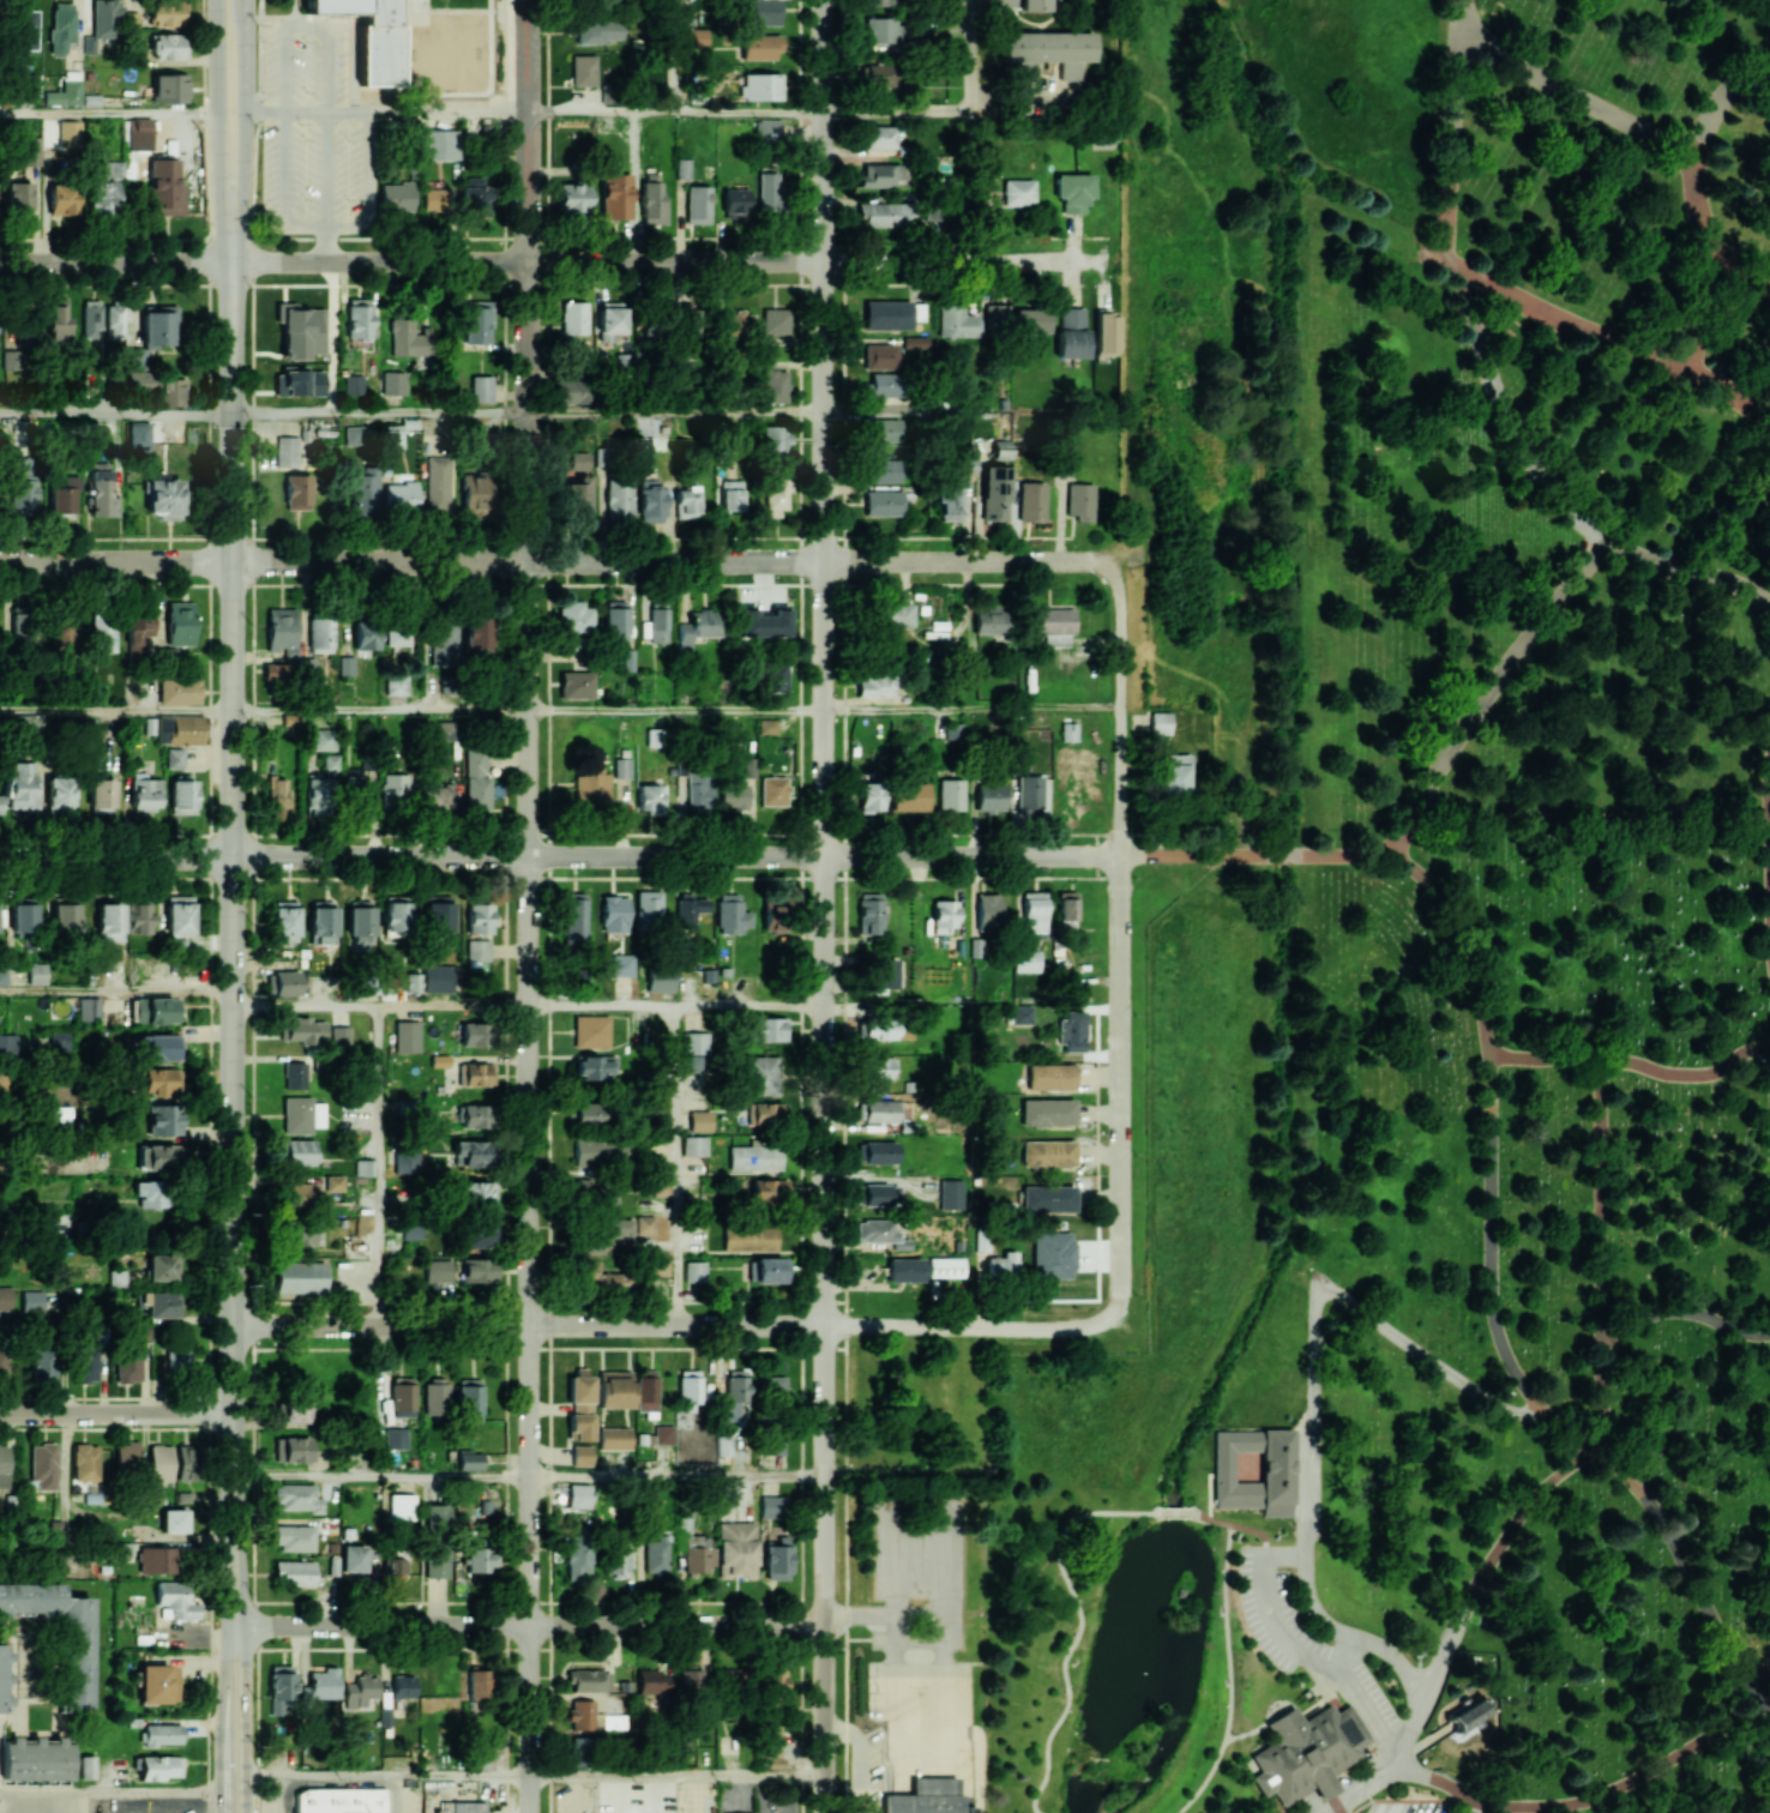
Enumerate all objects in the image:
building: (877, 2)
building: (1004, 2)
building: (1035, 5)
building: (342, 6)
building: (760, 12)
building: (167, 13)
road: (1459, 17)
building: (104, 18)
road: (303, 24)
building: (61, 26)
building: (25, 30)
building: (597, 31)
building: (880, 32)
building: (697, 38)
building: (168, 46)
building: (760, 46)
building: (1048, 52)
building: (375, 55)
road: (674, 55)
road: (973, 55)
building: (583, 70)
building: (880, 74)
building: (760, 86)
building: (169, 88)
building: (65, 94)
road: (1576, 97)
road: (1720, 101)
road: (386, 110)
road: (1035, 110)
road: (601, 112)
road: (748, 112)
road: (898, 112)
road: (109, 113)
road: (219, 131)
road: (243, 131)
building: (769, 131)
building: (70, 133)
building: (139, 133)
building: (877, 137)
building: (441, 145)
road: (1451, 145)
building: (32, 151)
parking lot: (312, 156)
building: (682, 168)
building: (119, 169)
building: (879, 174)
building: (165, 186)
road: (326, 186)
building: (1073, 191)
building: (1017, 192)
building: (767, 193)
building: (102, 195)
building: (614, 195)
building: (19, 198)
building: (396, 198)
building: (474, 198)
building: (434, 199)
building: (572, 199)
building: (734, 199)
building: (61, 200)
building: (651, 200)
road: (1697, 200)
building: (697, 204)
building: (941, 210)
building: (881, 213)
road: (1432, 251)
road: (1452, 260)
road: (116, 263)
road: (662, 263)
road: (1738, 271)
road: (1700, 307)
building: (887, 314)
building: (995, 315)
building: (91, 318)
building: (359, 318)
building: (573, 318)
building: (58, 319)
building: (115, 320)
building: (955, 320)
building: (1030, 320)
building: (609, 321)
building: (776, 321)
building: (737, 323)
road: (1577, 323)
building: (157, 324)
building: (472, 325)
building: (24, 326)
building: (300, 330)
building: (1071, 332)
building: (1104, 332)
road: (333, 338)
building: (407, 339)
building: (914, 342)
building: (880, 356)
building: (136, 359)
building: (11, 360)
building: (299, 380)
building: (137, 381)
building: (353, 384)
building: (884, 384)
building: (775, 385)
building: (481, 387)
building: (171, 390)
building: (570, 391)
road: (1734, 393)
road: (116, 414)
road: (380, 414)
road: (676, 414)
road: (1505, 421)
road: (824, 429)
building: (885, 429)
building: (132, 434)
building: (353, 435)
building: (392, 435)
building: (773, 438)
building: (1001, 450)
building: (287, 451)
building: (579, 460)
building: (968, 464)
building: (883, 470)
building: (438, 483)
building: (22, 486)
building: (366, 490)
building: (101, 492)
building: (297, 492)
building: (476, 493)
building: (994, 493)
building: (730, 494)
building: (61, 495)
building: (775, 495)
building: (402, 496)
building: (164, 498)
building: (576, 498)
building: (619, 499)
building: (651, 499)
building: (947, 499)
building: (687, 501)
building: (1031, 501)
building: (1079, 501)
building: (883, 502)
road: (556, 564)
road: (1690, 572)
building: (574, 615)
building: (892, 615)
building: (989, 620)
building: (615, 621)
building: (763, 621)
building: (19, 622)
building: (180, 624)
building: (655, 624)
building: (1052, 625)
building: (698, 626)
building: (282, 630)
building: (65, 631)
building: (102, 631)
building: (397, 632)
building: (476, 632)
building: (366, 633)
building: (137, 634)
building: (320, 634)
building: (444, 645)
road: (1501, 675)
building: (776, 676)
building: (396, 685)
building: (576, 685)
building: (875, 685)
building: (177, 691)
road: (116, 710)
road: (381, 710)
road: (973, 710)
road: (676, 711)
building: (179, 729)
building: (445, 730)
building: (1068, 731)
building: (654, 736)
building: (324, 740)
building: (174, 758)
building: (748, 766)
building: (621, 767)
building: (1172, 772)
building: (476, 779)
building: (22, 787)
building: (592, 788)
building: (357, 789)
building: (393, 789)
building: (699, 790)
building: (772, 790)
building: (61, 793)
building: (145, 793)
building: (950, 794)
building: (1029, 794)
building: (102, 795)
building: (317, 795)
building: (733, 795)
building: (182, 796)
building: (438, 796)
building: (649, 796)
building: (910, 796)
building: (989, 797)
building: (278, 799)
building: (1, 805)
road: (1590, 820)
road: (1399, 838)
road: (411, 856)
road: (1253, 856)
road: (973, 859)
road: (529, 907)
building: (648, 908)
building: (688, 909)
building: (1066, 909)
building: (986, 911)
building: (1034, 911)
building: (24, 912)
building: (64, 912)
building: (869, 912)
building: (179, 914)
building: (614, 914)
building: (732, 914)
building: (773, 915)
building: (944, 915)
building: (139, 916)
building: (439, 916)
building: (396, 917)
building: (478, 917)
building: (574, 917)
building: (285, 921)
building: (323, 921)
building: (109, 922)
road: (1468, 938)
road: (234, 944)
road: (1120, 946)
building: (478, 950)
building: (1027, 960)
building: (622, 965)
building: (883, 972)
building: (37, 974)
building: (4, 975)
building: (393, 977)
building: (437, 978)
building: (660, 981)
building: (285, 982)
building: (413, 982)
road: (116, 992)
park: (1473, 992)
road: (306, 1006)
road: (454, 1006)
road: (602, 1006)
road: (749, 1006)
building: (89, 1008)
building: (162, 1010)
building: (1022, 1014)
building: (769, 1028)
building: (879, 1029)
building: (305, 1030)
building: (591, 1030)
building: (1071, 1031)
building: (474, 1034)
building: (339, 1036)
building: (405, 1036)
building: (59, 1040)
building: (694, 1042)
building: (7, 1046)
building: (161, 1046)
road: (1547, 1059)
building: (439, 1060)
building: (692, 1064)
building: (592, 1067)
building: (877, 1068)
building: (478, 1073)
building: (295, 1074)
building: (761, 1074)
road: (1688, 1074)
building: (1049, 1076)
building: (164, 1082)
building: (881, 1110)
building: (1047, 1112)
building: (61, 1113)
building: (588, 1113)
building: (766, 1113)
building: (301, 1114)
building: (475, 1115)
building: (163, 1119)
building: (699, 1120)
building: (694, 1145)
building: (632, 1149)
building: (299, 1151)
building: (472, 1151)
building: (594, 1151)
building: (879, 1152)
building: (1047, 1154)
building: (161, 1157)
building: (755, 1157)
road: (381, 1164)
road: (676, 1165)
building: (333, 1183)
building: (661, 1187)
building: (770, 1191)
building: (150, 1192)
building: (302, 1192)
building: (477, 1193)
building: (880, 1194)
building: (950, 1194)
building: (1047, 1198)
road: (1603, 1200)
building: (644, 1224)
building: (411, 1231)
building: (607, 1233)
building: (880, 1233)
building: (301, 1234)
building: (478, 1235)
building: (751, 1237)
road: (1492, 1240)
building: (995, 1264)
building: (660, 1266)
building: (163, 1267)
building: (945, 1267)
building: (904, 1269)
building: (438, 1270)
building: (477, 1270)
building: (694, 1270)
building: (771, 1270)
building: (300, 1276)
building: (602, 1278)
road: (1319, 1294)
building: (6, 1299)
building: (34, 1302)
building: (162, 1303)
road: (1684, 1311)
road: (529, 1325)
road: (967, 1326)
road: (825, 1336)
building: (176, 1359)
building: (2, 1362)
building: (42, 1363)
building: (128, 1363)
building: (84, 1365)
building: (736, 1387)
building: (615, 1389)
building: (772, 1389)
building: (646, 1390)
building: (690, 1390)
building: (403, 1392)
building: (435, 1397)
road: (1605, 1397)
building: (469, 1399)
building: (580, 1404)
building: (1601, 1405)
building: (295, 1410)
building: (732, 1410)
road: (118, 1413)
building: (664, 1432)
road: (1569, 1433)
building: (395, 1438)
building: (614, 1438)
building: (724, 1444)
building: (773, 1444)
building: (297, 1448)
building: (582, 1454)
building: (127, 1456)
building: (470, 1459)
building: (85, 1462)
building: (187, 1462)
building: (161, 1463)
building: (4, 1465)
building: (43, 1465)
building: (1227, 1469)
building: (1281, 1475)
road: (383, 1477)
road: (678, 1477)
building: (578, 1494)
building: (297, 1498)
building: (402, 1506)
building: (772, 1506)
building: (437, 1512)
road: (1178, 1514)
building: (174, 1519)
road: (1214, 1520)
building: (685, 1524)
road: (1258, 1531)
building: (294, 1536)
building: (121, 1549)
building: (736, 1549)
building: (656, 1554)
building: (697, 1554)
road: (1286, 1555)
building: (577, 1556)
building: (353, 1558)
building: (776, 1558)
building: (157, 1559)
building: (480, 1559)
building: (618, 1560)
building: (437, 1562)
road: (1686, 1562)
road: (1491, 1564)
building: (393, 1565)
building: (295, 1572)
building: (175, 1600)
road: (1312, 1609)
road: (530, 1626)
road: (1083, 1627)
road: (1281, 1627)
parking lot: (1308, 1645)
road: (1348, 1656)
road: (1401, 1662)
building: (74, 1663)
building: (25, 1667)
building: (4, 1676)
road: (1232, 1676)
building: (732, 1678)
building: (589, 1680)
building: (690, 1680)
road: (1764, 1680)
building: (651, 1681)
building: (324, 1682)
building: (157, 1684)
building: (772, 1684)
road: (1326, 1684)
building: (403, 1686)
building: (281, 1689)
building: (365, 1692)
road: (1764, 1693)
road: (1362, 1701)
road: (1287, 1706)
building: (580, 1713)
building: (1471, 1716)
road: (221, 1718)
road: (245, 1718)
building: (613, 1721)
building: (162, 1734)
road: (1410, 1736)
building: (771, 1742)
road: (1423, 1745)
building: (1310, 1751)
road: (1391, 1751)
building: (579, 1752)
building: (36, 1759)
building: (88, 1766)
building: (158, 1766)
road: (389, 1773)
road: (679, 1773)
road: (1381, 1778)
road: (1634, 1781)
road: (1444, 1782)
road: (343, 1783)
road: (1331, 1785)
road: (110, 1788)
building: (938, 1788)
building: (1329, 1788)
parking lot: (266, 1797)
building: (307, 1800)
parking lot: (402, 1800)
road: (1345, 1801)
road: (205, 1806)
building: (928, 1806)
parking lot: (1407, 1806)
road: (149, 1807)
building: (460, 1807)
road: (186, 1809)
road: (194, 1809)
road: (1338, 1809)
road: (1483, 1809)
building: (736, 1812)

